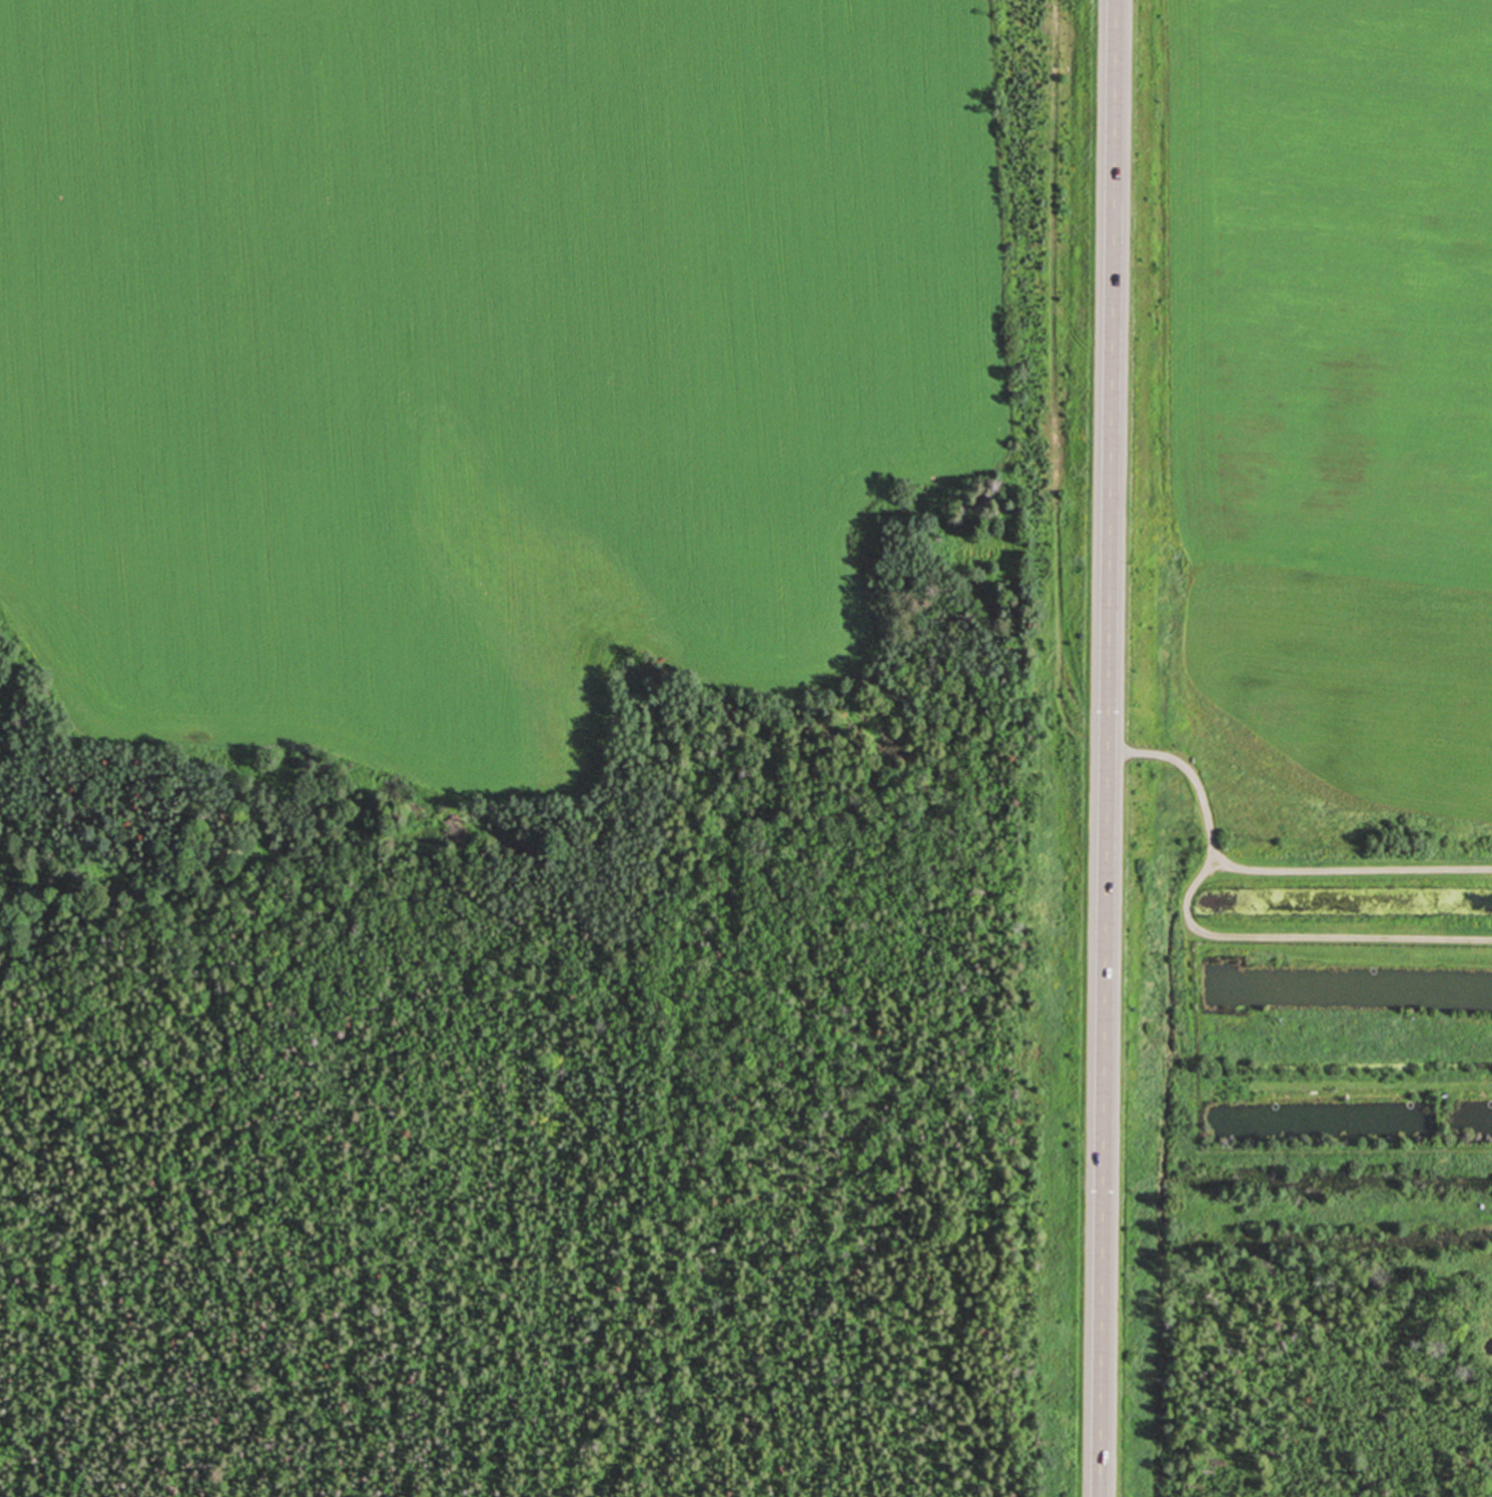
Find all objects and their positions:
road: (1106, 748)
road: (1190, 774)
road: (1353, 870)
road: (1186, 898)
road: (1351, 938)

